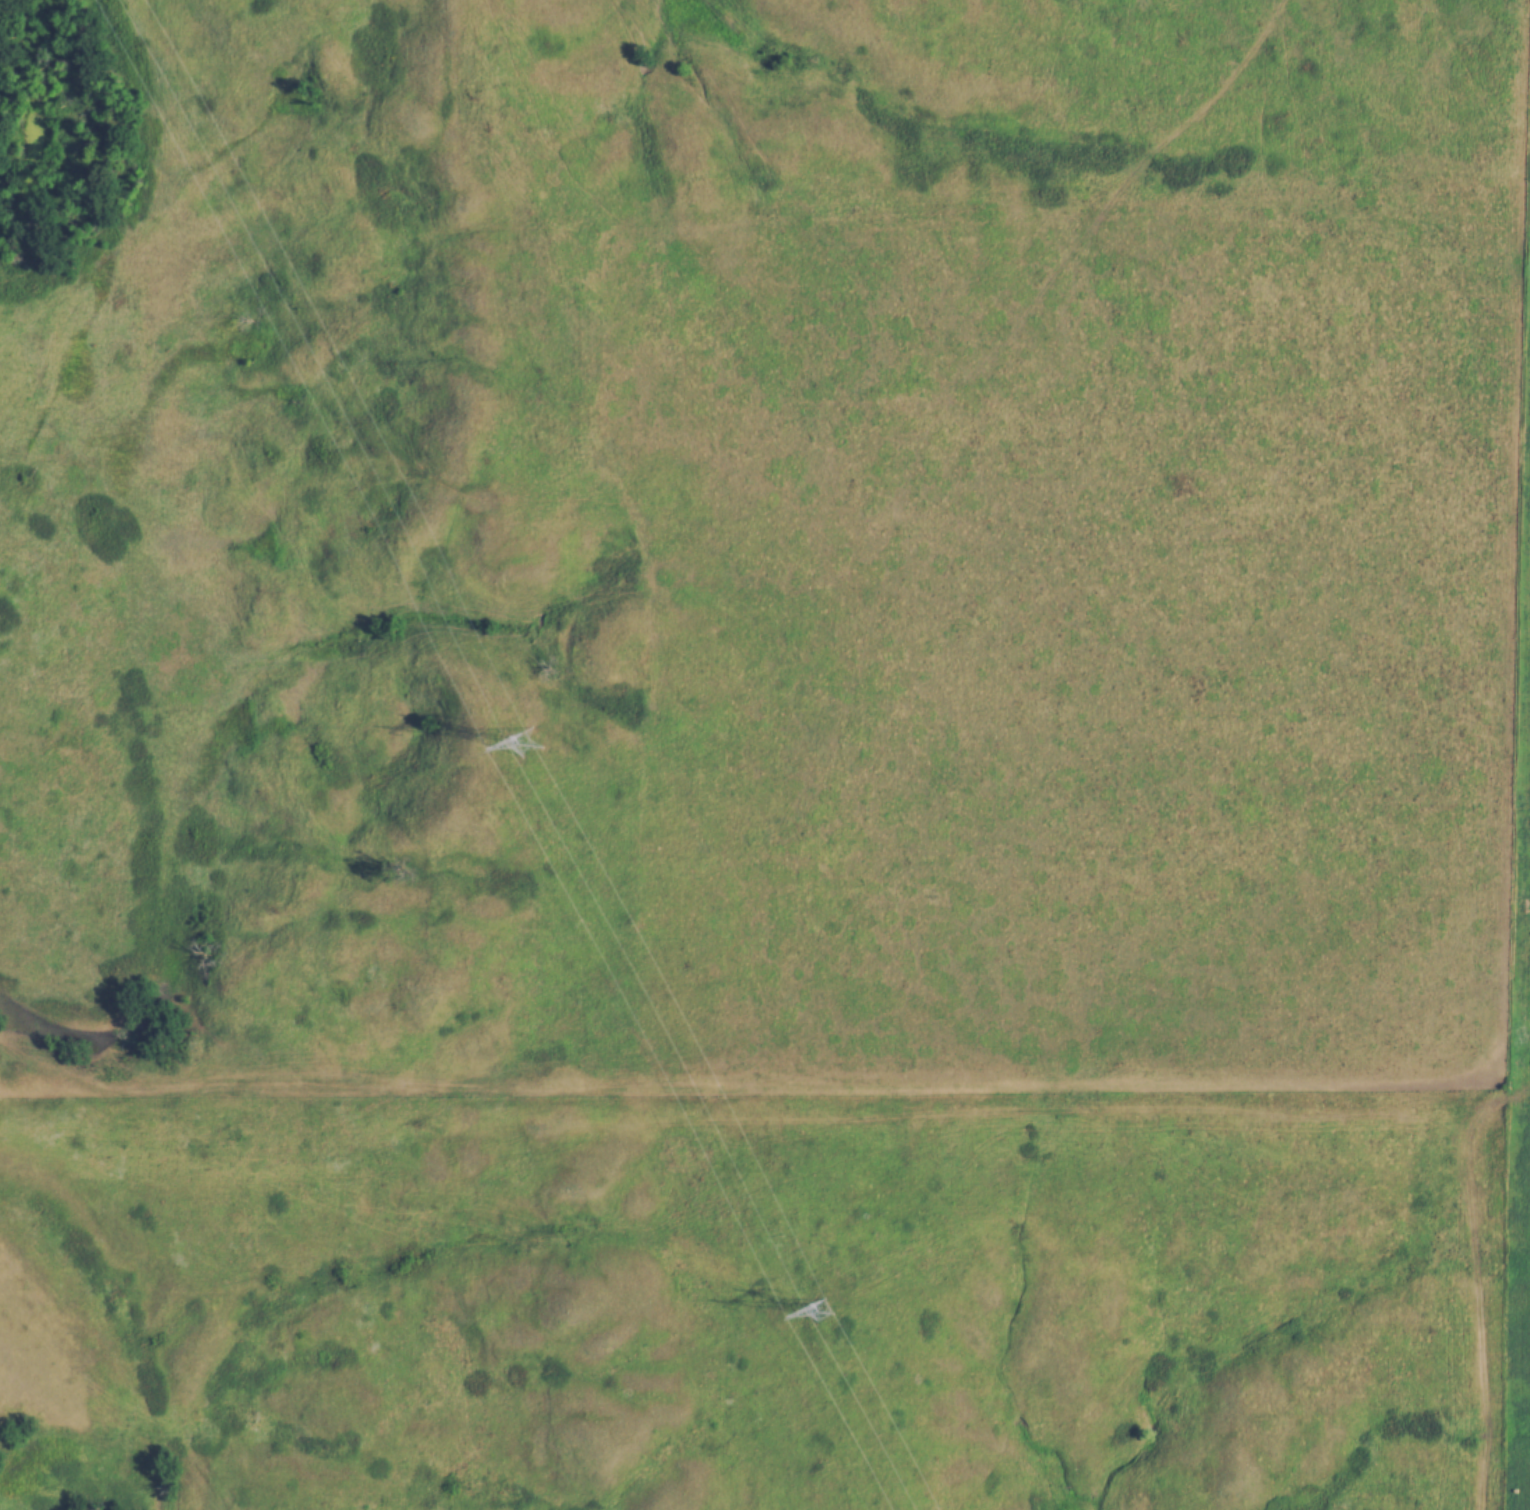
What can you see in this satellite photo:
power tower: (515, 744)
power tower: (813, 1310)

